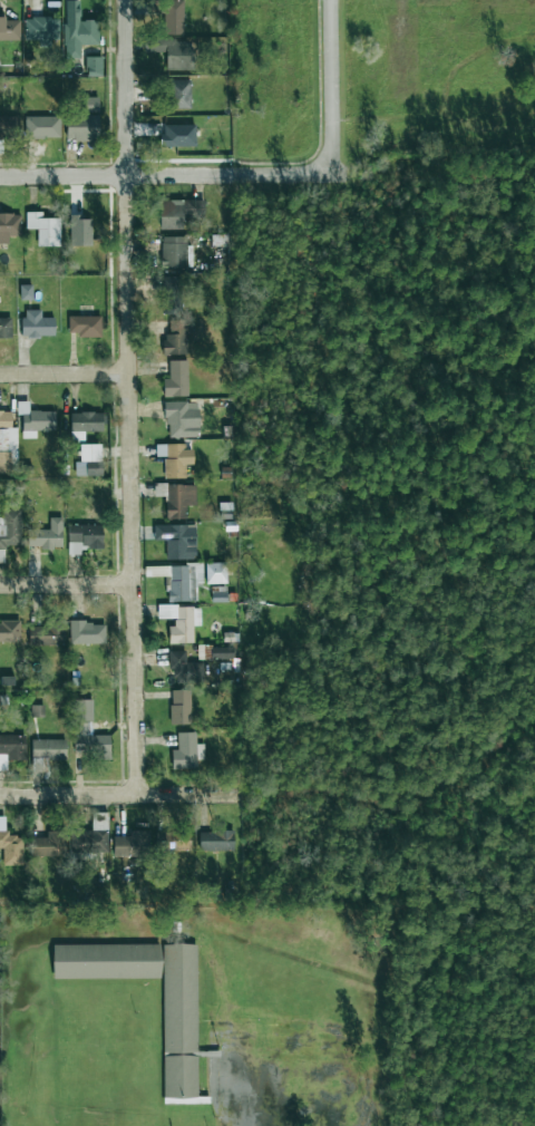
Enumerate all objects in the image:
building: (174, 17)
building: (10, 29)
building: (41, 29)
building: (78, 30)
building: (178, 55)
building: (93, 66)
park: (437, 76)
road: (328, 89)
building: (178, 94)
building: (90, 105)
building: (9, 127)
building: (42, 127)
building: (82, 127)
road: (164, 176)
building: (178, 212)
building: (9, 226)
building: (45, 229)
building: (80, 230)
building: (176, 252)
building: (26, 292)
building: (172, 294)
building: (37, 324)
building: (85, 326)
building: (4, 327)
building: (177, 337)
road: (65, 373)
building: (176, 379)
road: (130, 397)
building: (182, 419)
building: (35, 420)
building: (87, 421)
building: (8, 444)
building: (89, 453)
building: (175, 459)
building: (179, 499)
building: (11, 528)
building: (47, 535)
building: (85, 537)
building: (177, 540)
building: (1, 555)
building: (215, 573)
road: (66, 581)
building: (184, 581)
building: (184, 624)
building: (10, 631)
building: (87, 632)
building: (48, 633)
building: (222, 652)
building: (184, 668)
building: (181, 707)
building: (88, 731)
building: (11, 749)
building: (48, 749)
building: (187, 751)
road: (119, 795)
building: (91, 836)
building: (216, 841)
building: (50, 844)
building: (132, 844)
building: (10, 846)
building: (179, 1038)
road: (242, 1094)

